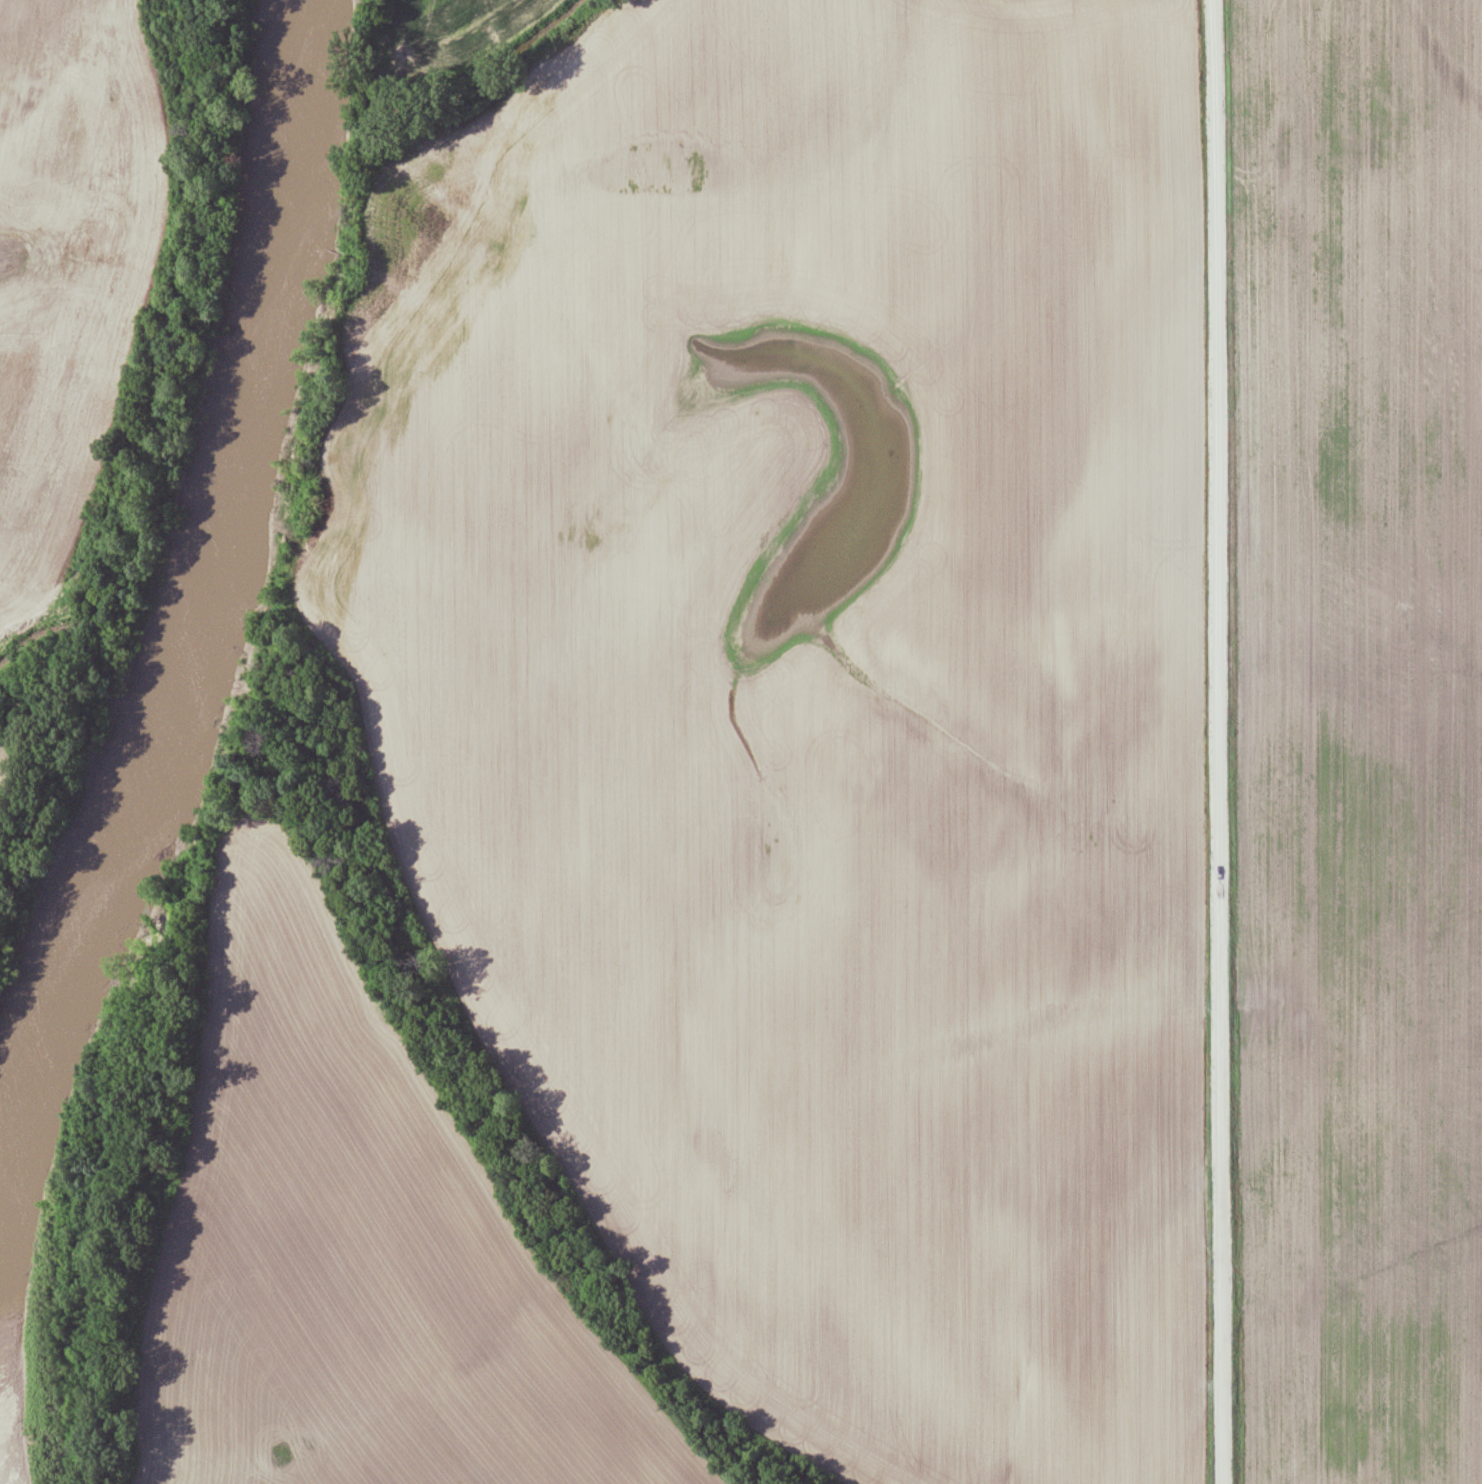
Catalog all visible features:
road: (1220, 741)

